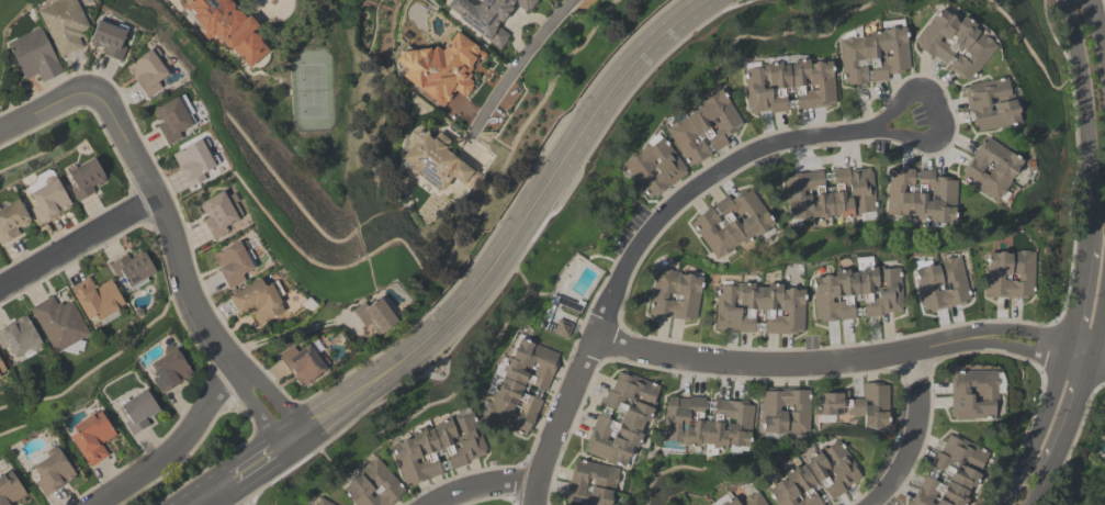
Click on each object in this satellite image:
road: (267, 2)
building: (487, 16)
building: (65, 25)
building: (232, 29)
road: (1097, 31)
building: (109, 40)
building: (955, 44)
building: (875, 55)
building: (34, 56)
road: (517, 64)
building: (441, 69)
building: (149, 74)
building: (789, 85)
building: (992, 104)
road: (41, 111)
road: (939, 112)
building: (173, 121)
road: (1087, 121)
building: (703, 128)
building: (195, 161)
building: (435, 161)
building: (655, 168)
building: (992, 169)
building: (86, 179)
building: (831, 195)
building: (922, 197)
building: (47, 200)
building: (221, 214)
building: (12, 221)
building: (733, 223)
road: (521, 237)
road: (78, 245)
road: (633, 249)
building: (235, 262)
road: (180, 268)
building: (1010, 274)
building: (941, 283)
building: (858, 292)
building: (675, 294)
road: (1082, 299)
building: (98, 300)
building: (259, 302)
building: (759, 308)
building: (376, 316)
building: (60, 323)
road: (1097, 332)
road: (286, 334)
building: (20, 338)
road: (852, 359)
building: (305, 363)
building: (2, 370)
building: (168, 371)
building: (519, 388)
building: (974, 394)
building: (857, 406)
building: (139, 411)
building: (786, 413)
road: (1071, 416)
building: (623, 419)
building: (709, 425)
road: (1040, 430)
road: (914, 435)
building: (92, 438)
road: (174, 447)
building: (438, 449)
road: (256, 465)
building: (53, 471)
building: (952, 472)
building: (816, 479)
road: (484, 484)
building: (593, 484)
building: (372, 485)
road: (1039, 489)
building: (11, 491)
road: (205, 498)
road: (219, 498)
building: (744, 500)
building: (320, 502)

